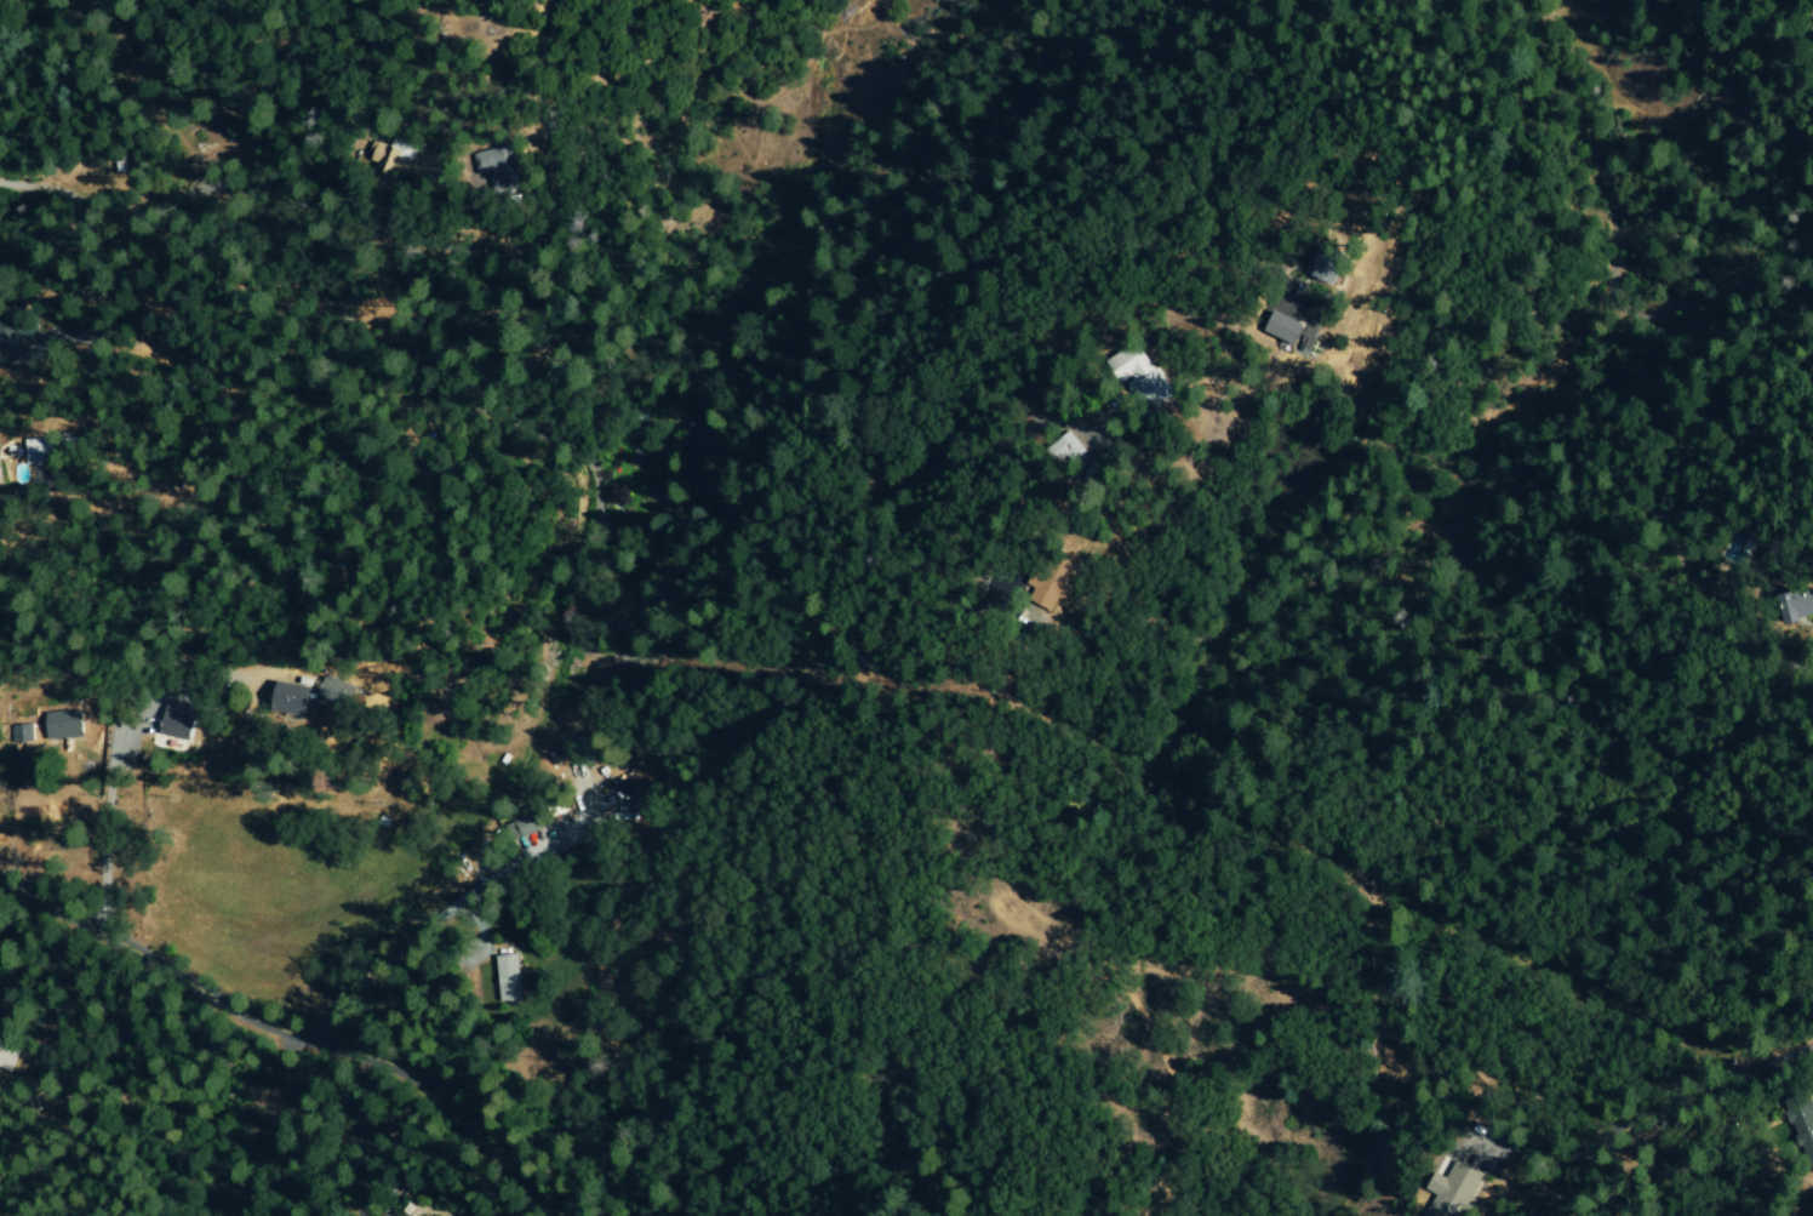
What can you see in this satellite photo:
road: (288, 108)
building: (399, 159)
building: (498, 167)
road: (50, 190)
road: (359, 223)
building: (1329, 264)
road: (946, 289)
building: (1285, 327)
building: (12, 337)
building: (1145, 375)
building: (46, 449)
building: (1068, 449)
building: (1045, 583)
building: (1794, 606)
building: (336, 692)
building: (292, 700)
building: (178, 721)
building: (528, 826)
road: (103, 838)
road: (429, 923)
building: (509, 976)
road: (294, 1038)
building: (7, 1055)
road: (1662, 1113)
building: (1801, 1131)
building: (1454, 1191)

